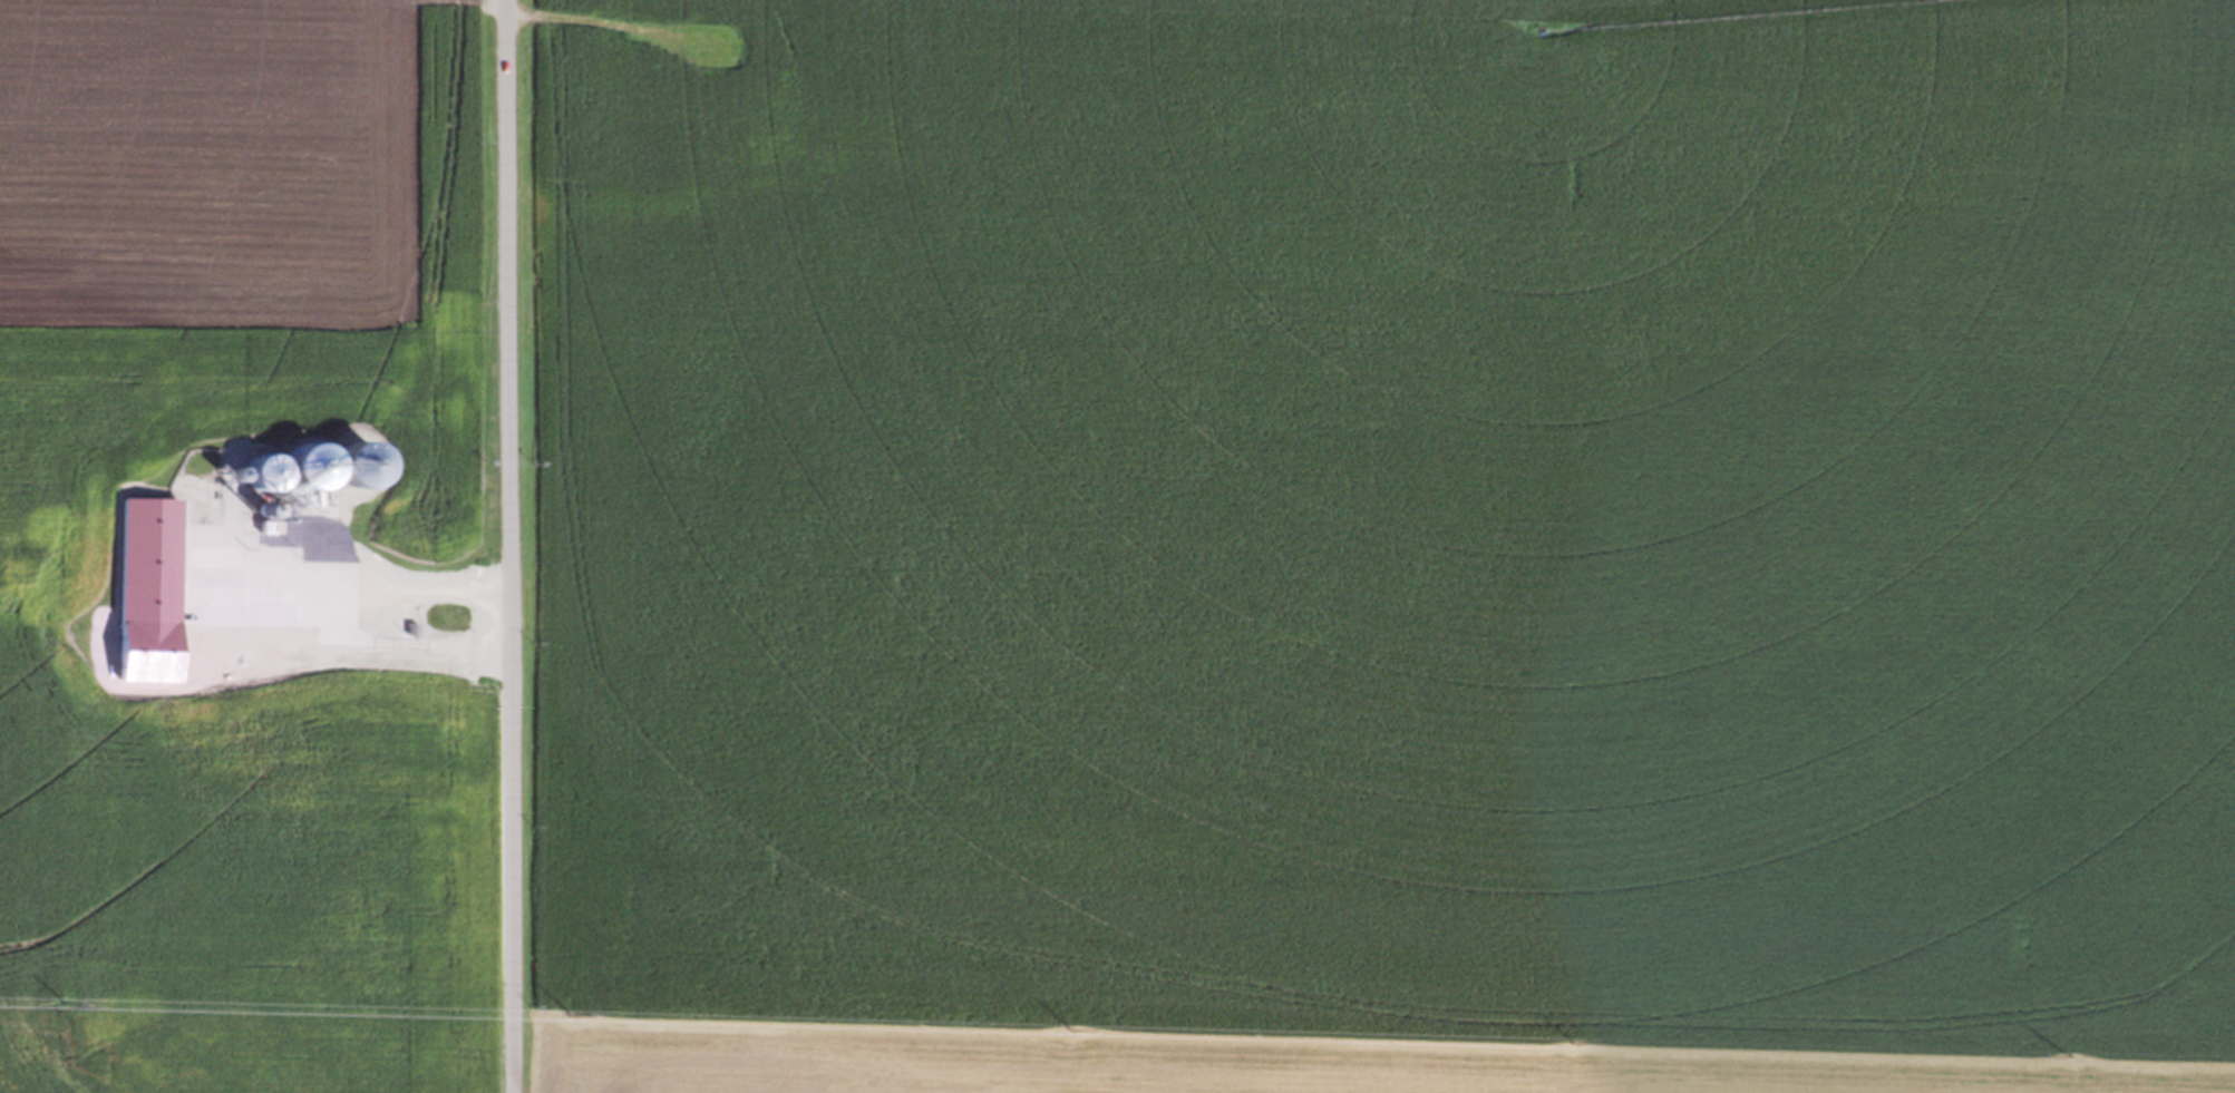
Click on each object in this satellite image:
building: (752, 48)
building: (349, 463)
building: (269, 476)
road: (511, 546)
power tower: (59, 999)
power tower: (571, 1013)
power tower: (1070, 1025)
power tower: (1574, 1037)
power tower: (2072, 1054)

